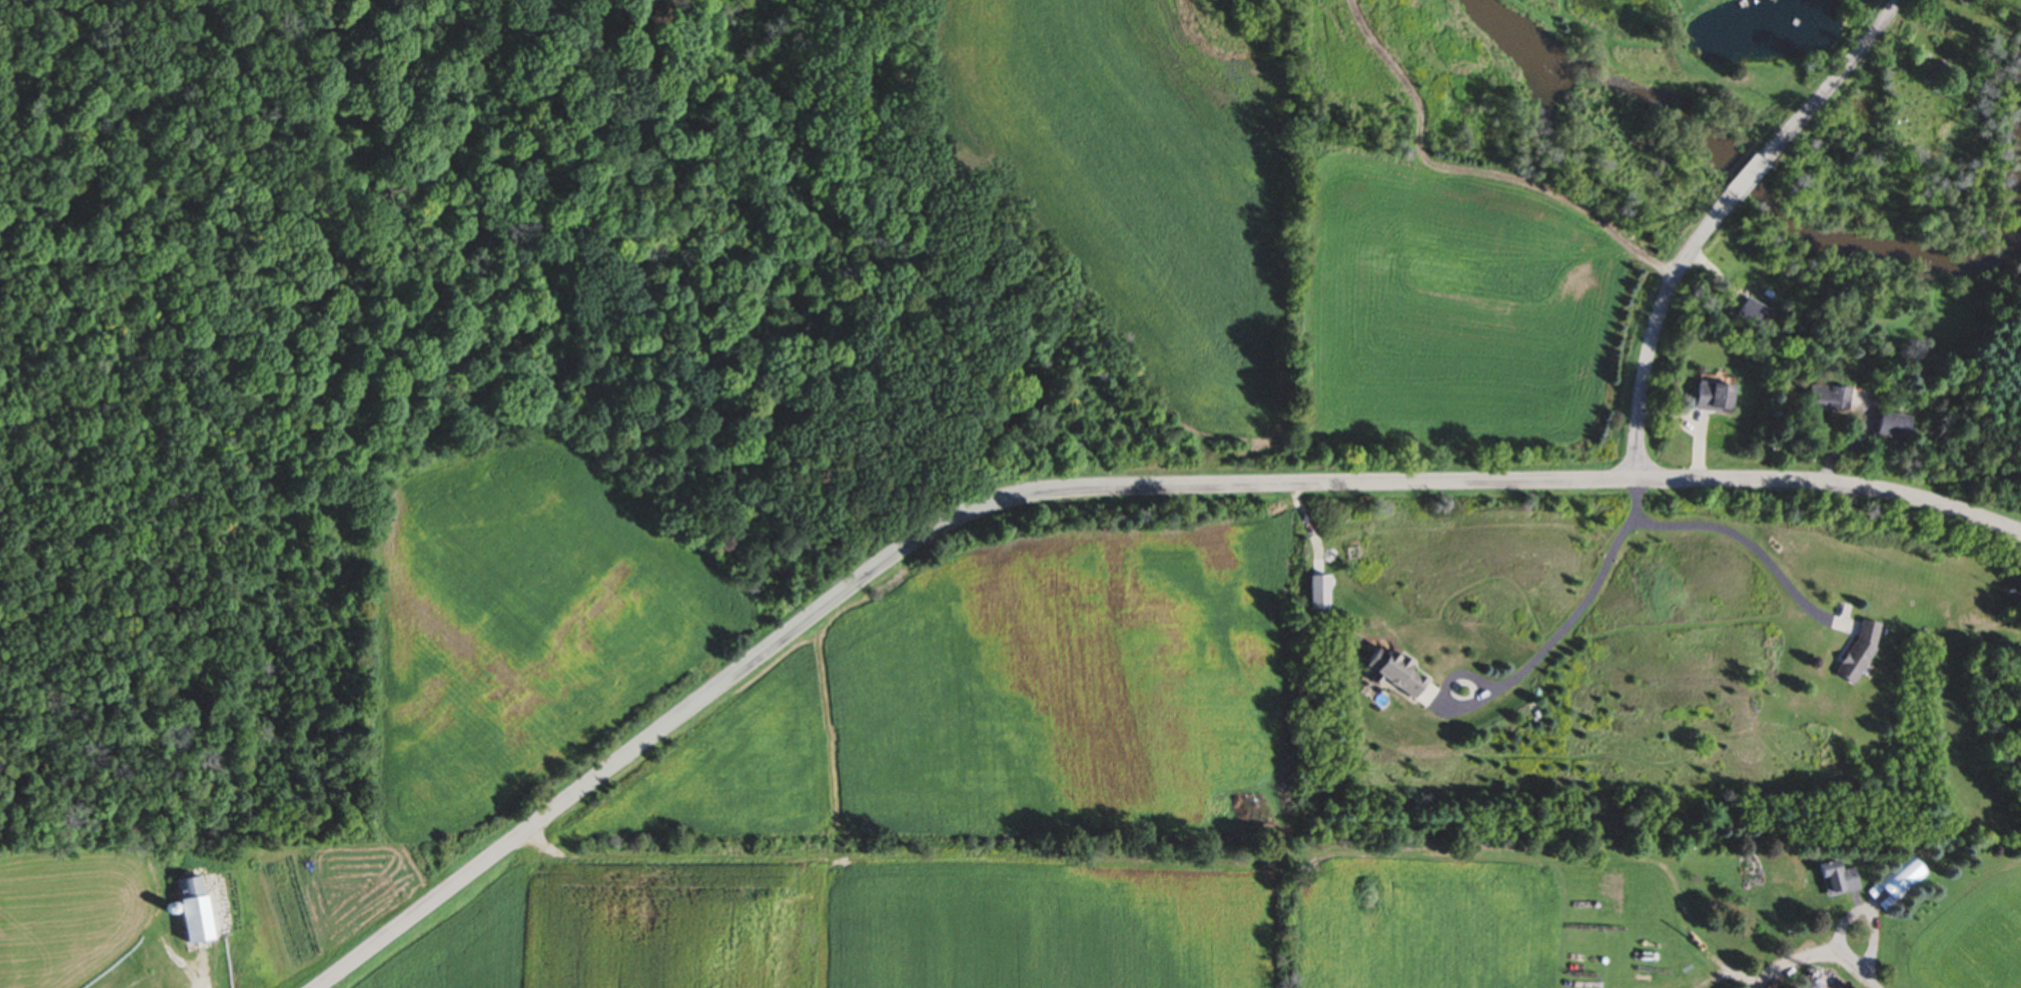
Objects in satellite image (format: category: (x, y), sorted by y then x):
road: (1835, 82)
road: (1747, 177)
river: (1791, 212)
building: (1753, 315)
road: (1655, 329)
building: (1824, 398)
building: (1711, 399)
building: (1891, 427)
road: (1094, 489)
road: (1741, 536)
road: (1569, 617)
building: (1856, 653)
building: (1391, 673)
building: (1209, 759)
building: (1834, 880)
building: (1896, 882)
building: (186, 911)
road: (1808, 953)
road: (199, 968)
road: (1868, 982)

